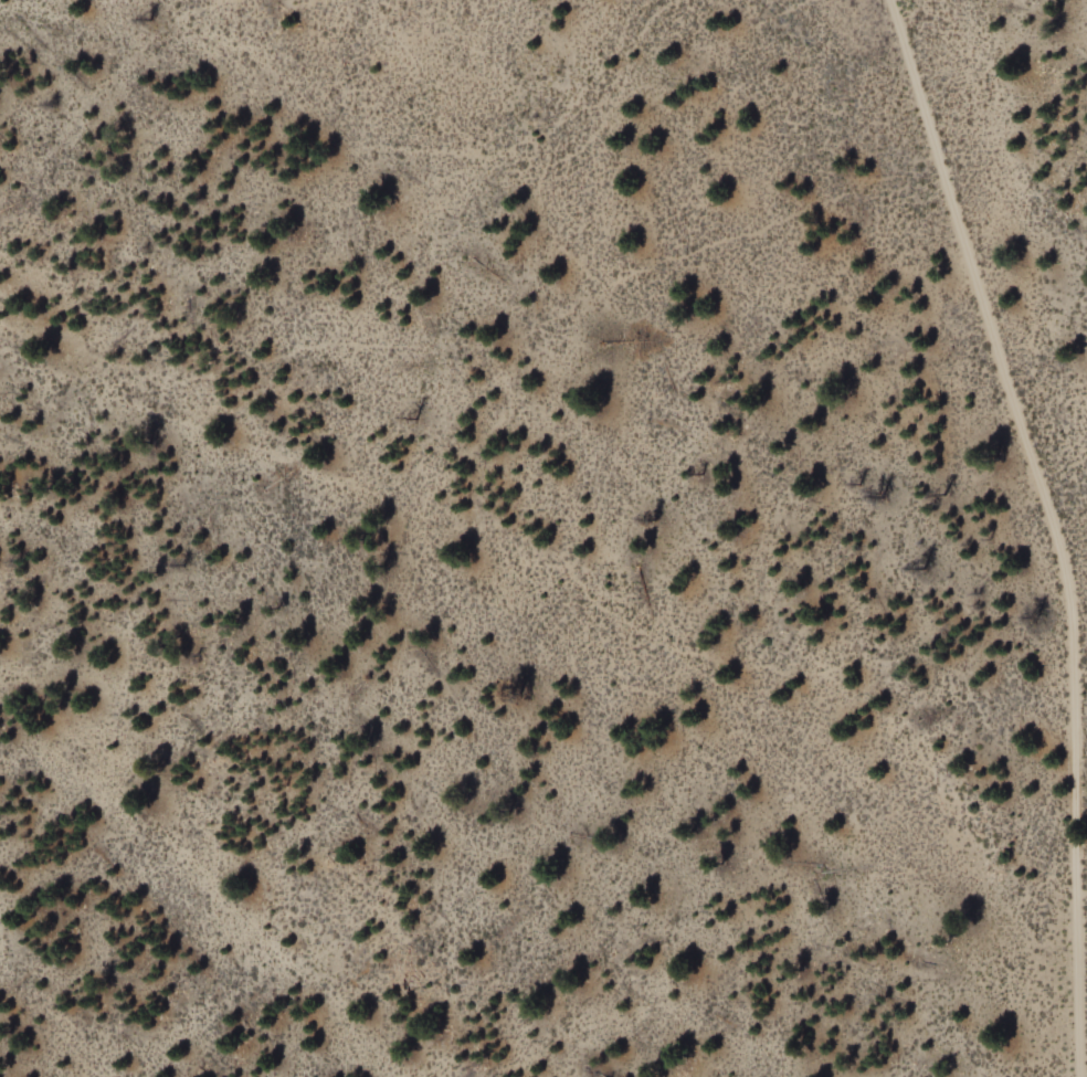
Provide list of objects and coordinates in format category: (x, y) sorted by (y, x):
road: (579, 499)
road: (1053, 527)
road: (1081, 693)
road: (215, 879)

